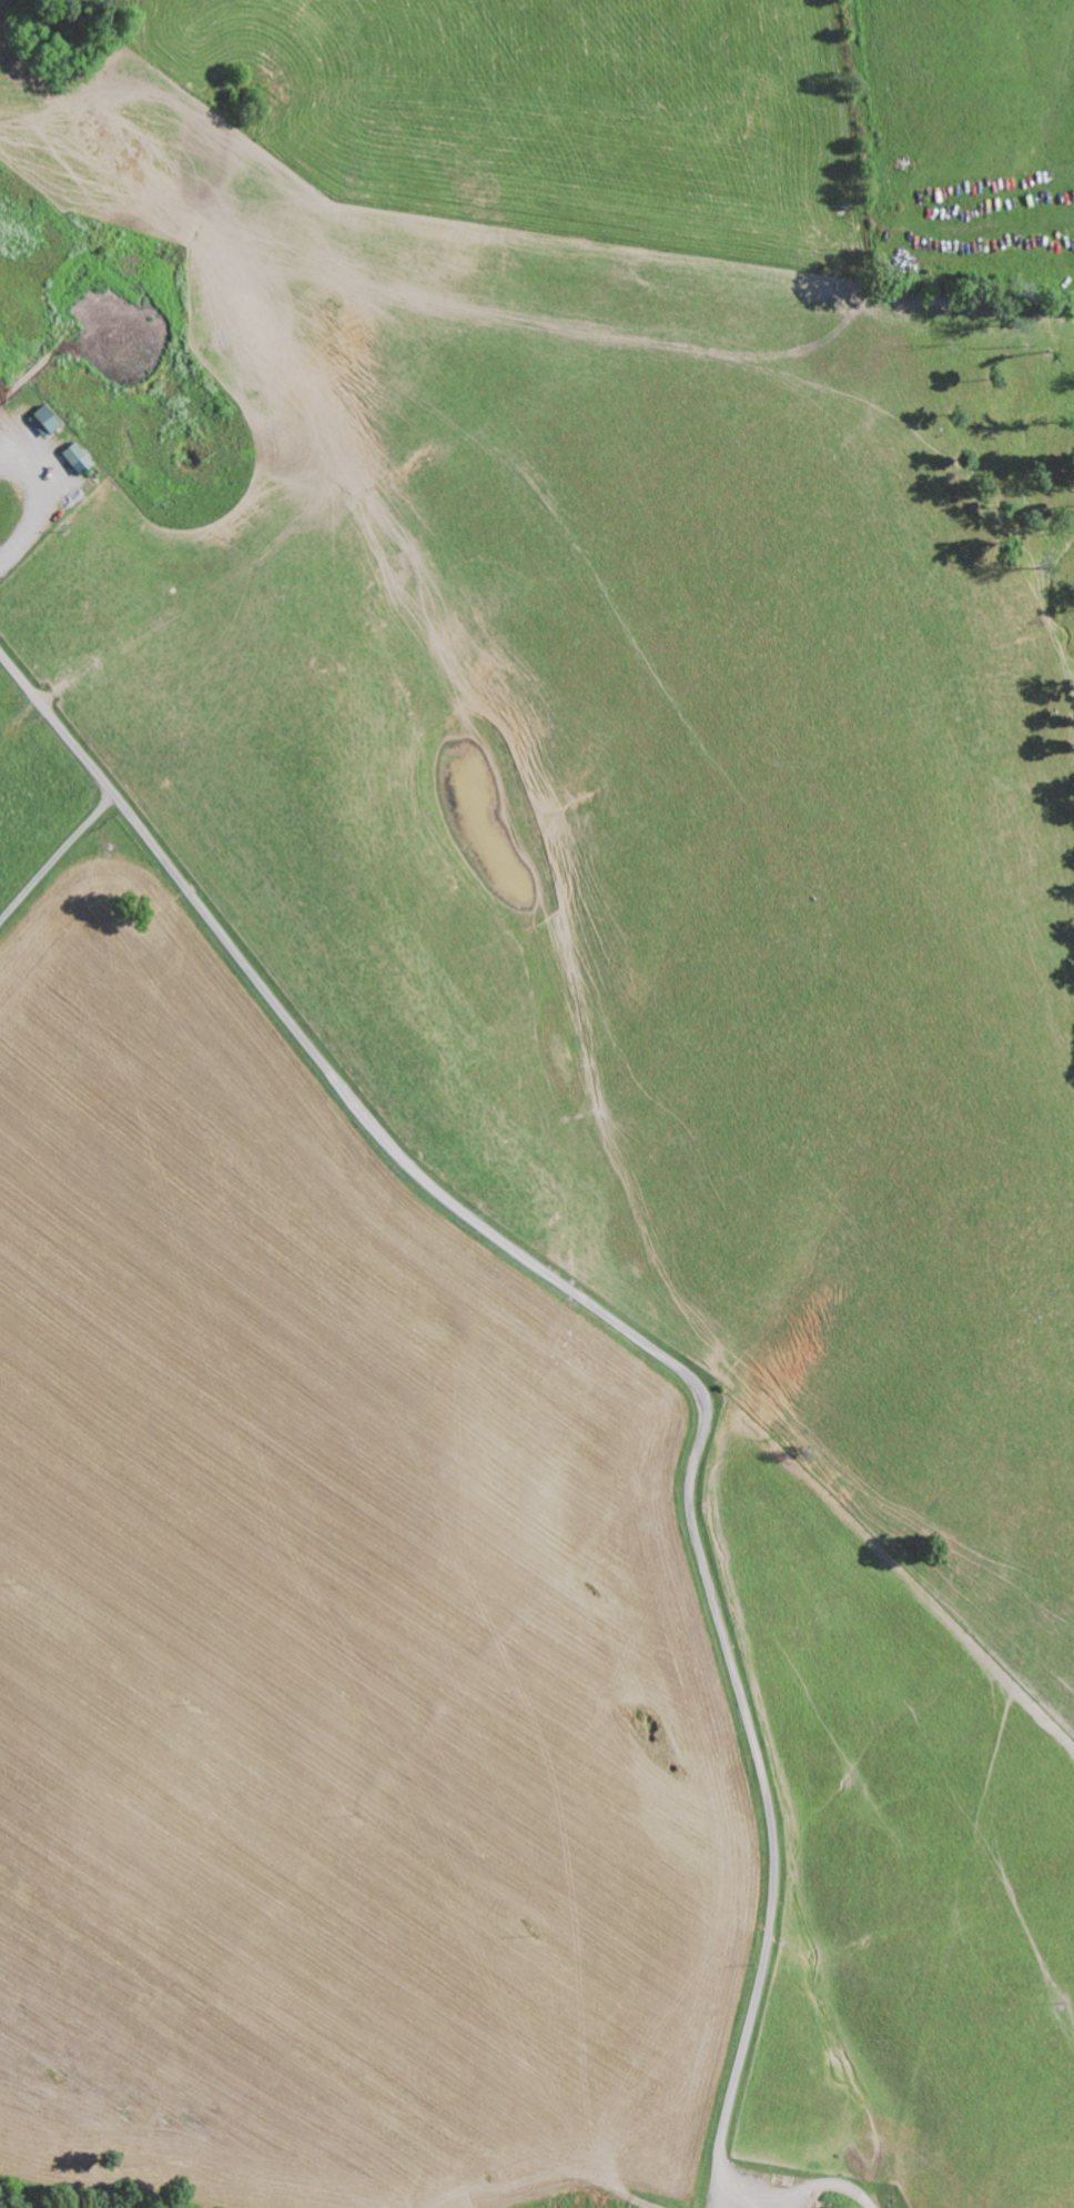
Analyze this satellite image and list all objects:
building: (47, 421)
building: (80, 458)
road: (622, 1327)

